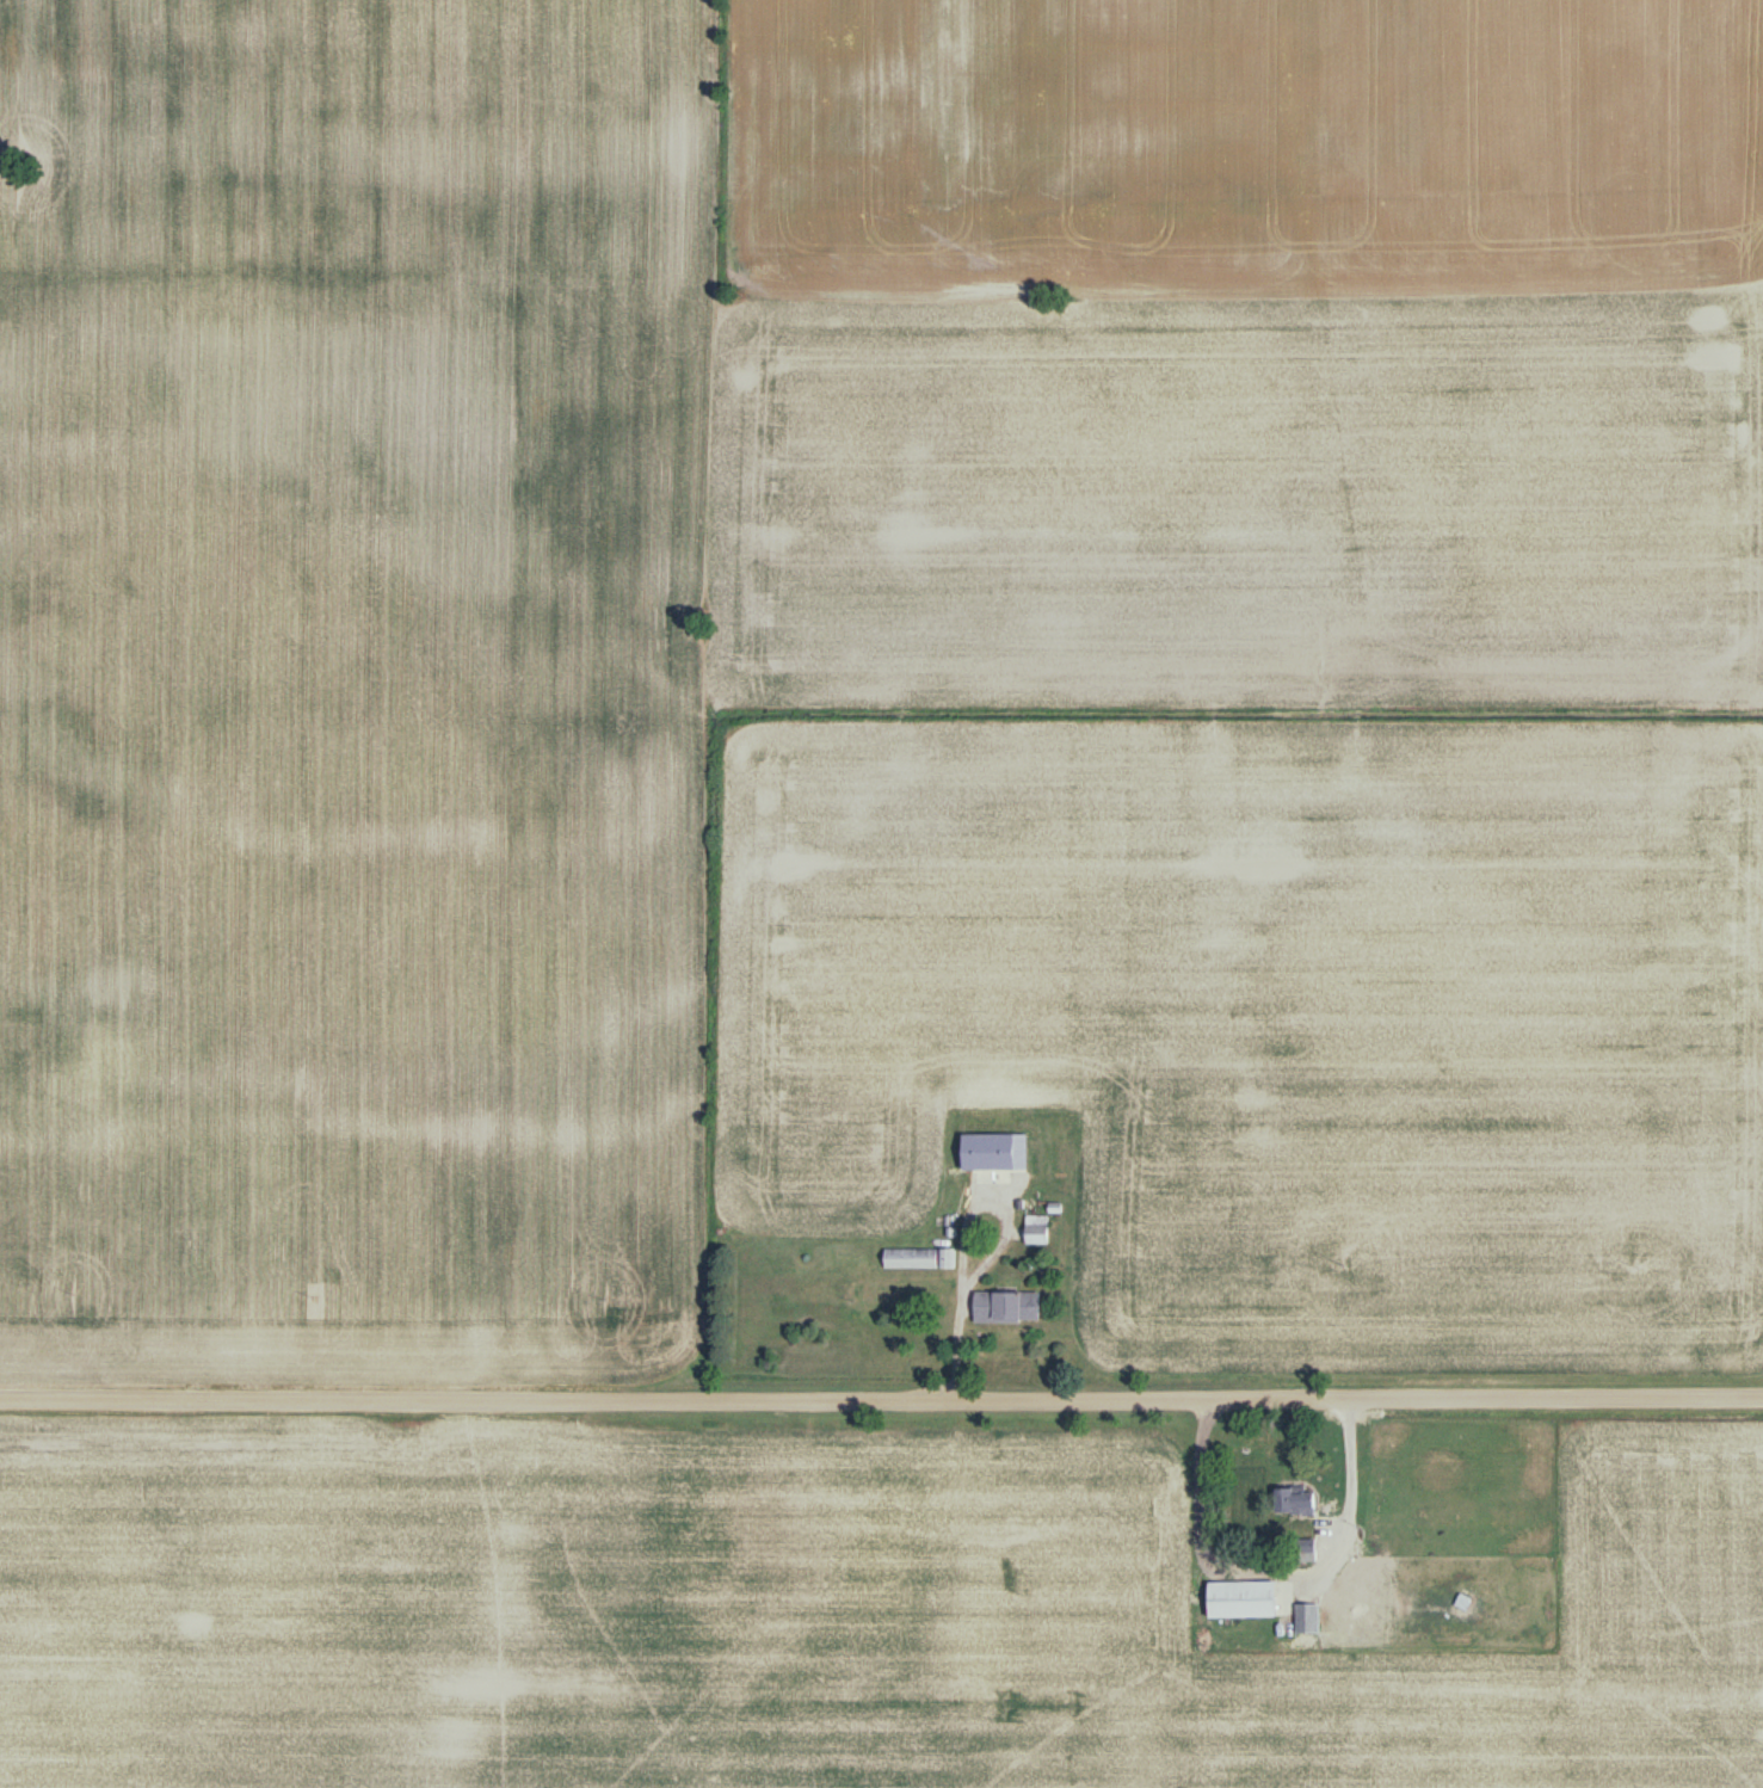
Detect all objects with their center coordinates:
building: (987, 1153)
building: (1036, 1232)
road: (961, 1250)
building: (919, 1260)
building: (1005, 1311)
road: (881, 1422)
building: (1294, 1504)
building: (1306, 1558)
road: (1274, 1577)
building: (1240, 1603)
building: (1307, 1622)

